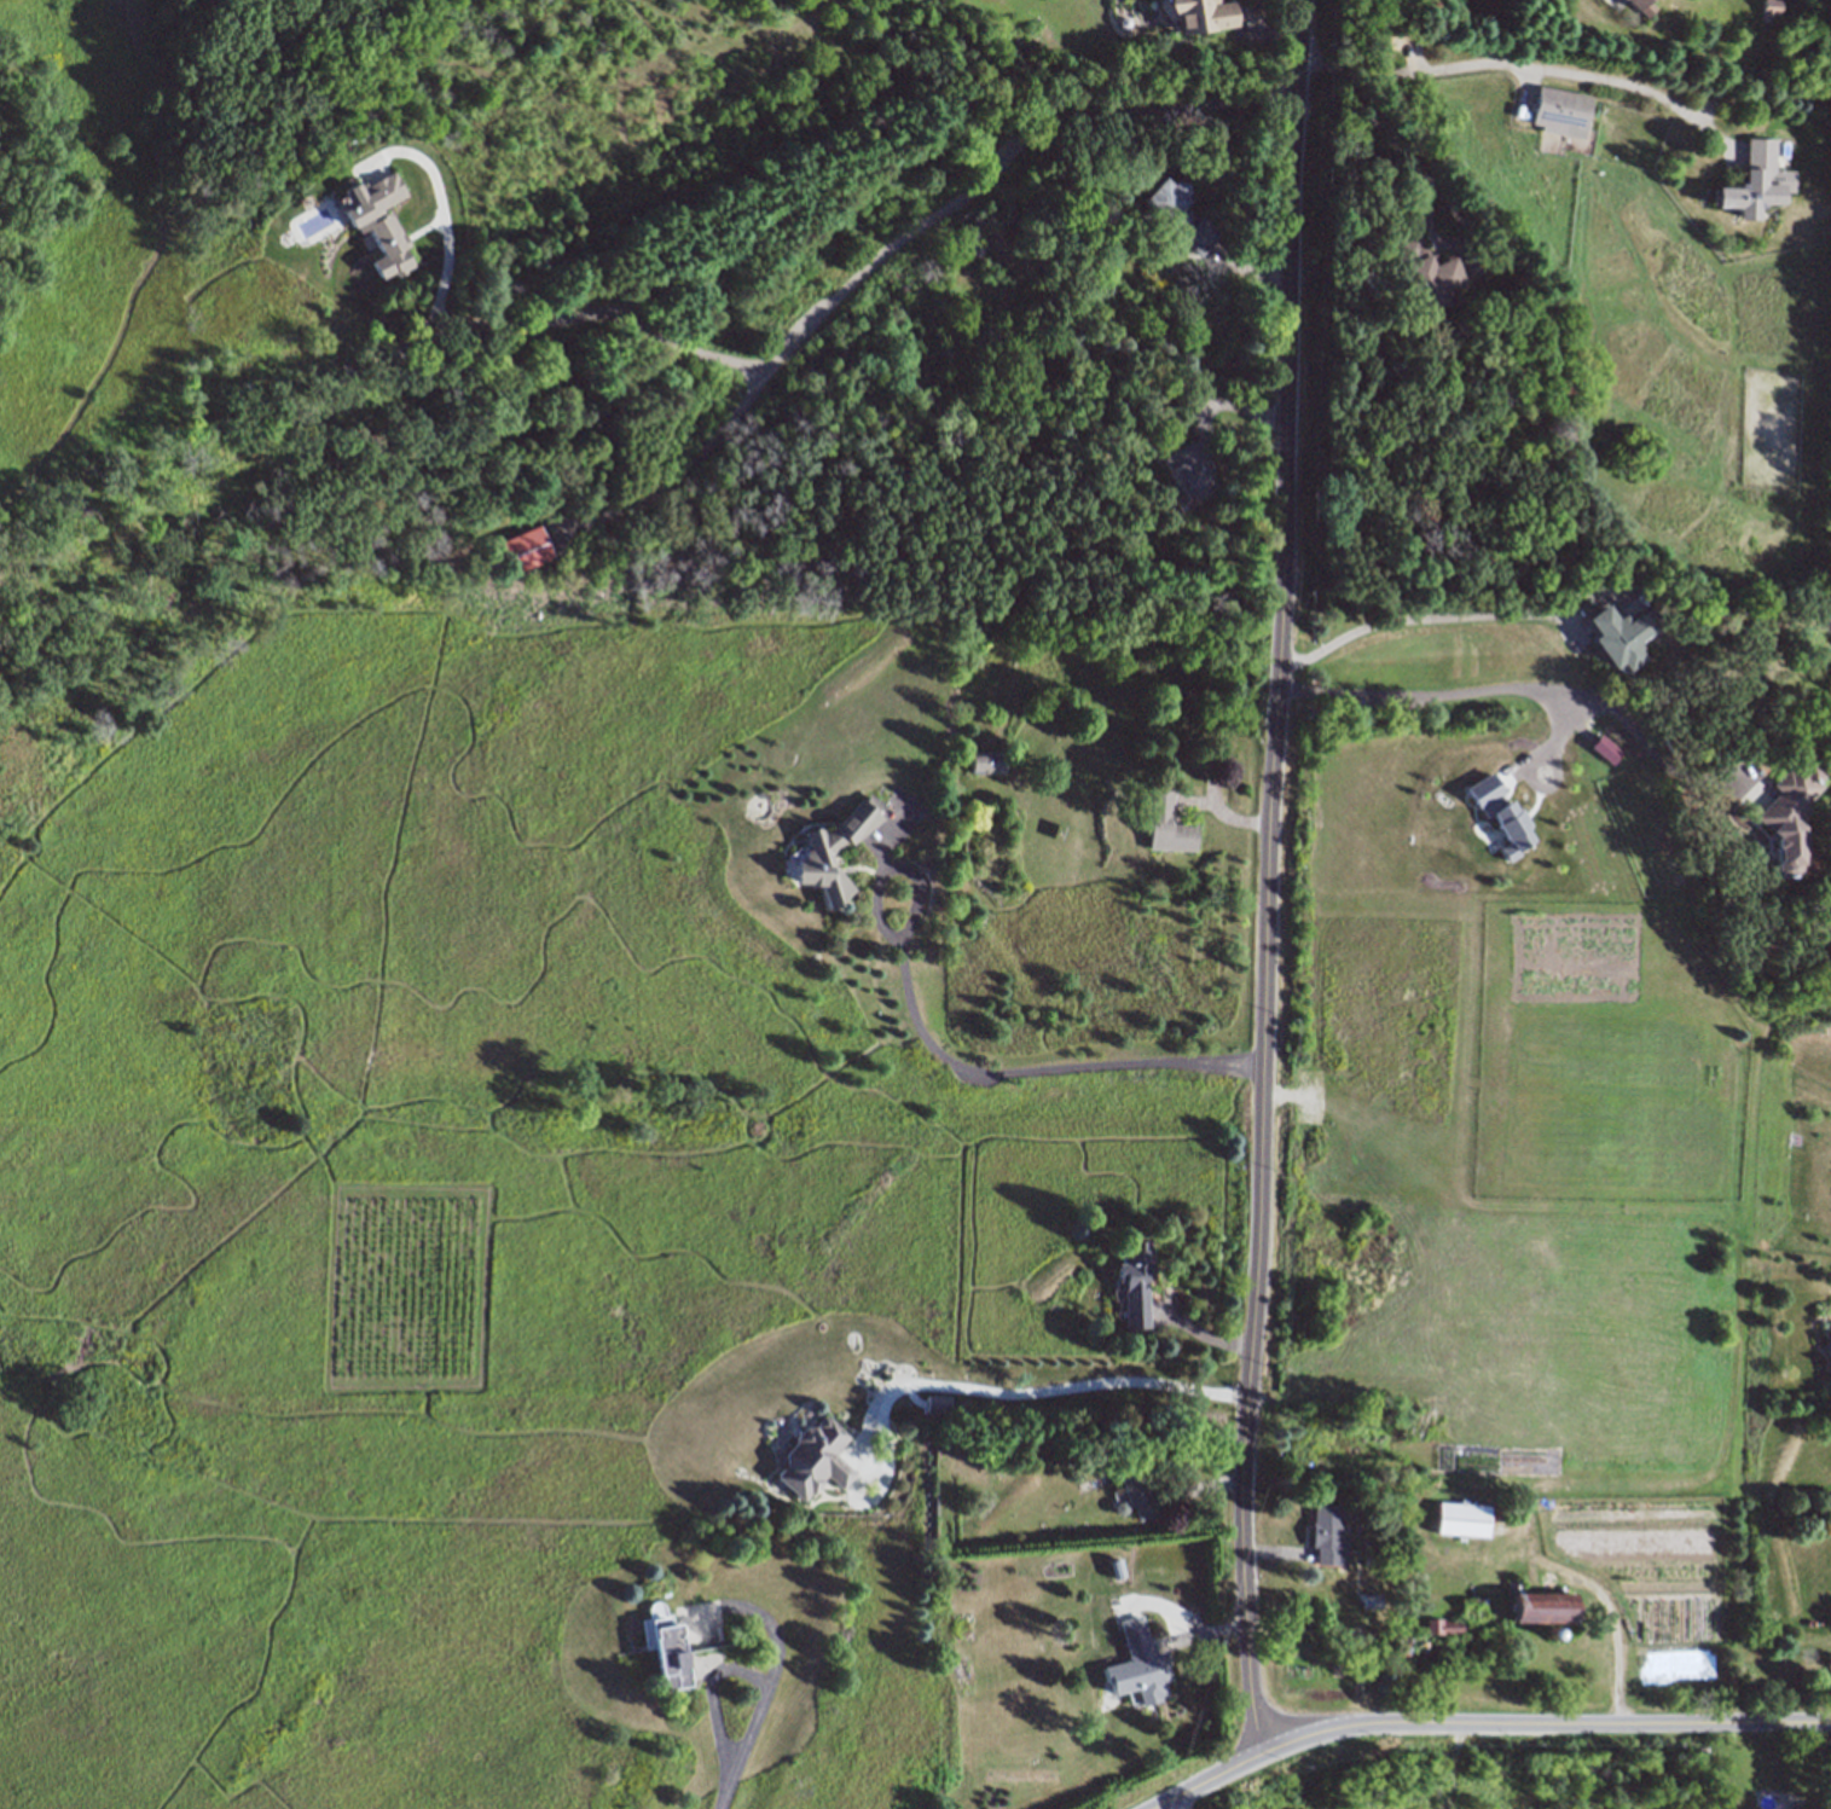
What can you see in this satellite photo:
building: (1640, 5)
building: (1768, 6)
building: (1198, 15)
building: (1038, 48)
road: (1526, 66)
building: (1560, 112)
road: (1386, 131)
building: (1757, 185)
building: (1177, 219)
building: (973, 244)
road: (149, 269)
building: (1424, 277)
building: (546, 317)
park: (1824, 334)
building: (537, 349)
road: (1821, 353)
road: (786, 355)
road: (695, 470)
building: (1189, 471)
building: (517, 557)
road: (1433, 619)
building: (1622, 634)
road: (1525, 688)
building: (986, 761)
building: (1786, 813)
building: (1166, 822)
building: (809, 853)
road: (1270, 876)
road: (944, 1060)
building: (1136, 1282)
park: (1754, 1337)
road: (1731, 1352)
road: (1027, 1391)
building: (816, 1457)
building: (1138, 1491)
building: (1450, 1521)
building: (1328, 1536)
building: (1403, 1547)
building: (1369, 1558)
building: (1371, 1601)
building: (1535, 1607)
building: (1472, 1608)
building: (1442, 1627)
building: (1410, 1642)
building: (665, 1643)
building: (1140, 1665)
road: (742, 1671)
road: (1553, 1724)
road: (1217, 1778)
road: (729, 1791)

